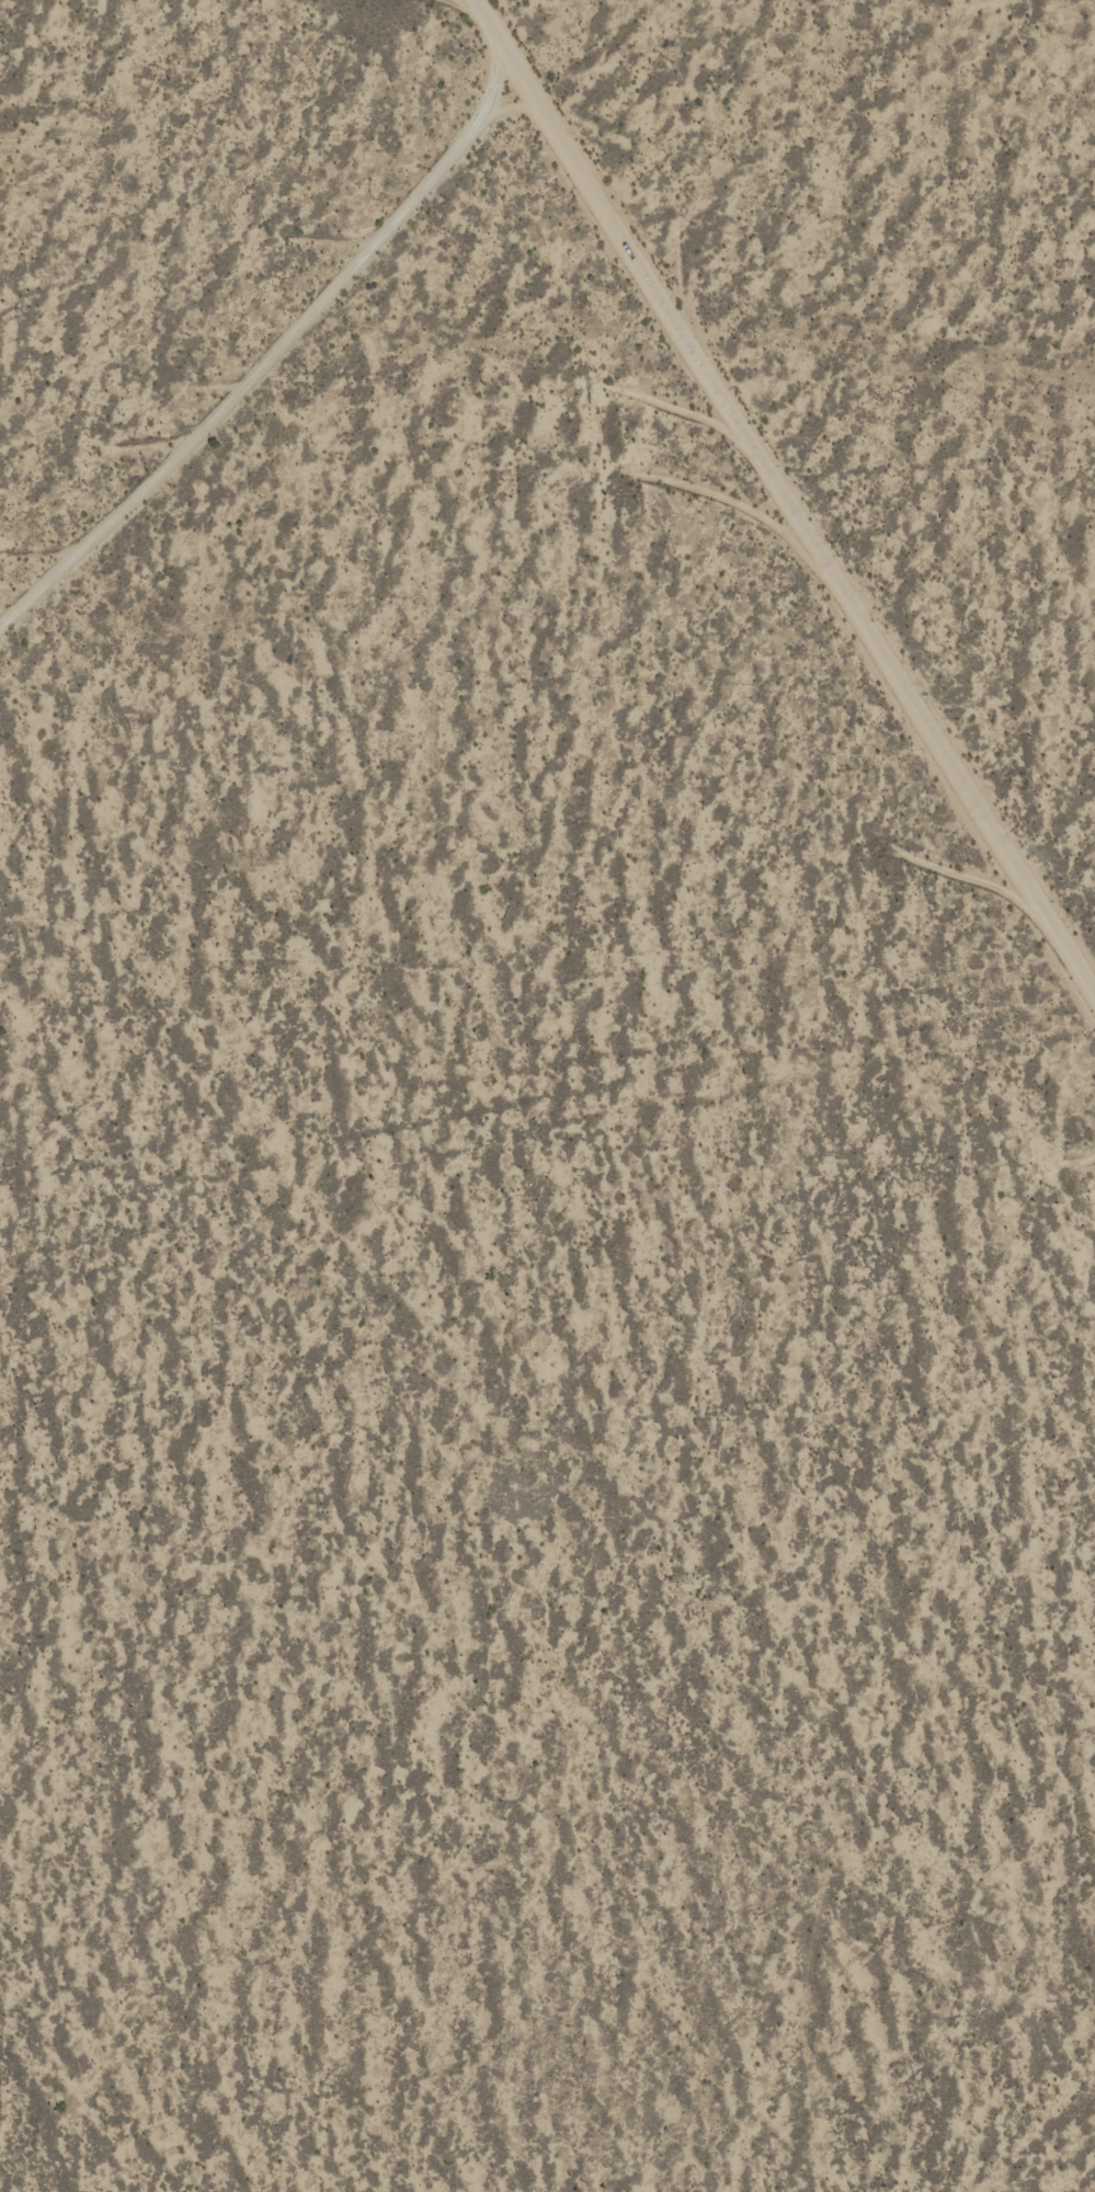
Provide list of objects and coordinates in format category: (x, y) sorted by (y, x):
road: (505, 67)
road: (255, 377)
road: (815, 564)

